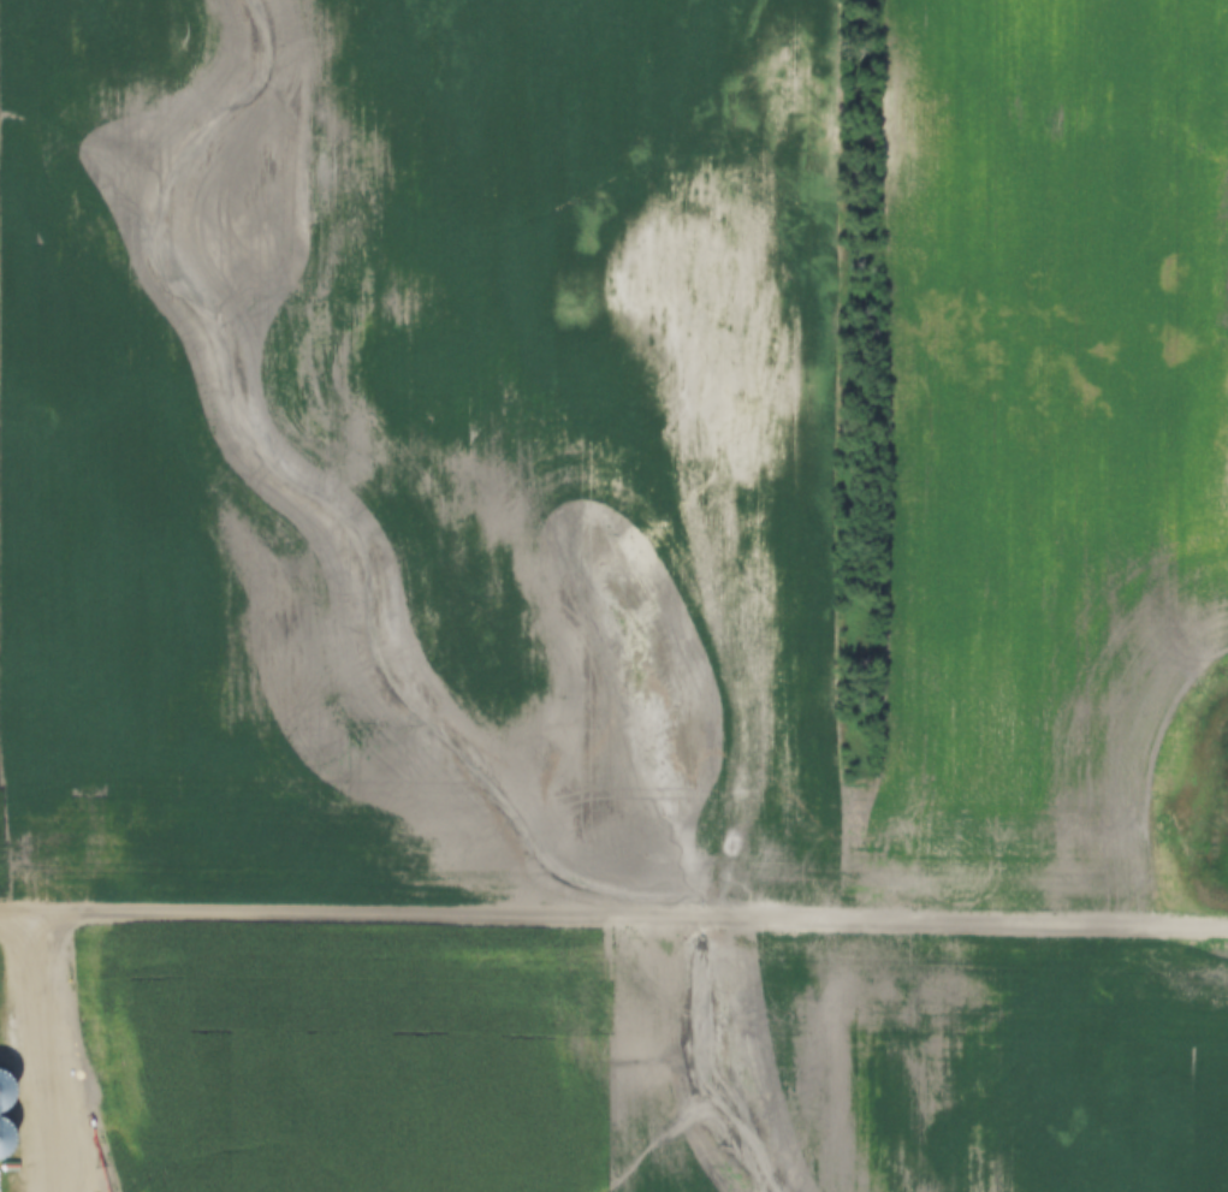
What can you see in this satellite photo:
road: (7, 914)
road: (621, 923)
road: (14, 1054)

